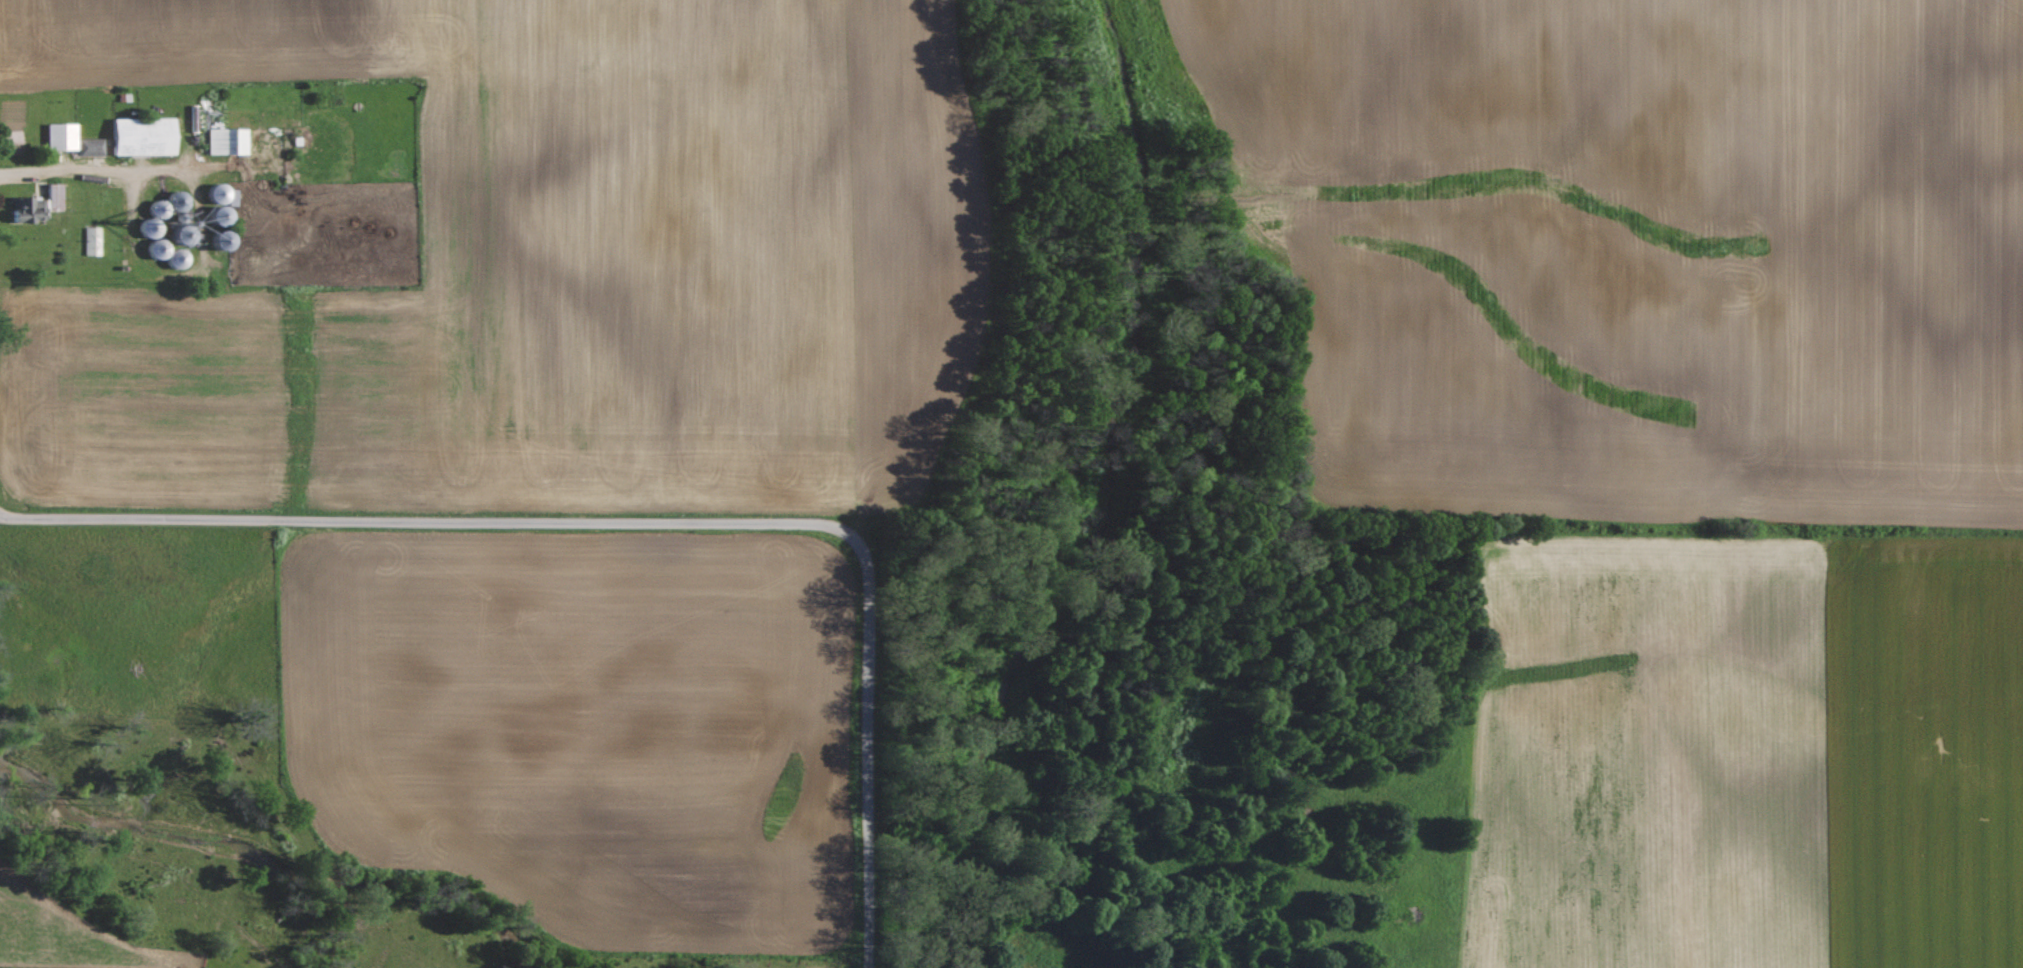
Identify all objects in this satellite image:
building: (146, 137)
building: (75, 140)
building: (229, 141)
road: (106, 175)
building: (44, 202)
road: (424, 519)
road: (868, 746)

